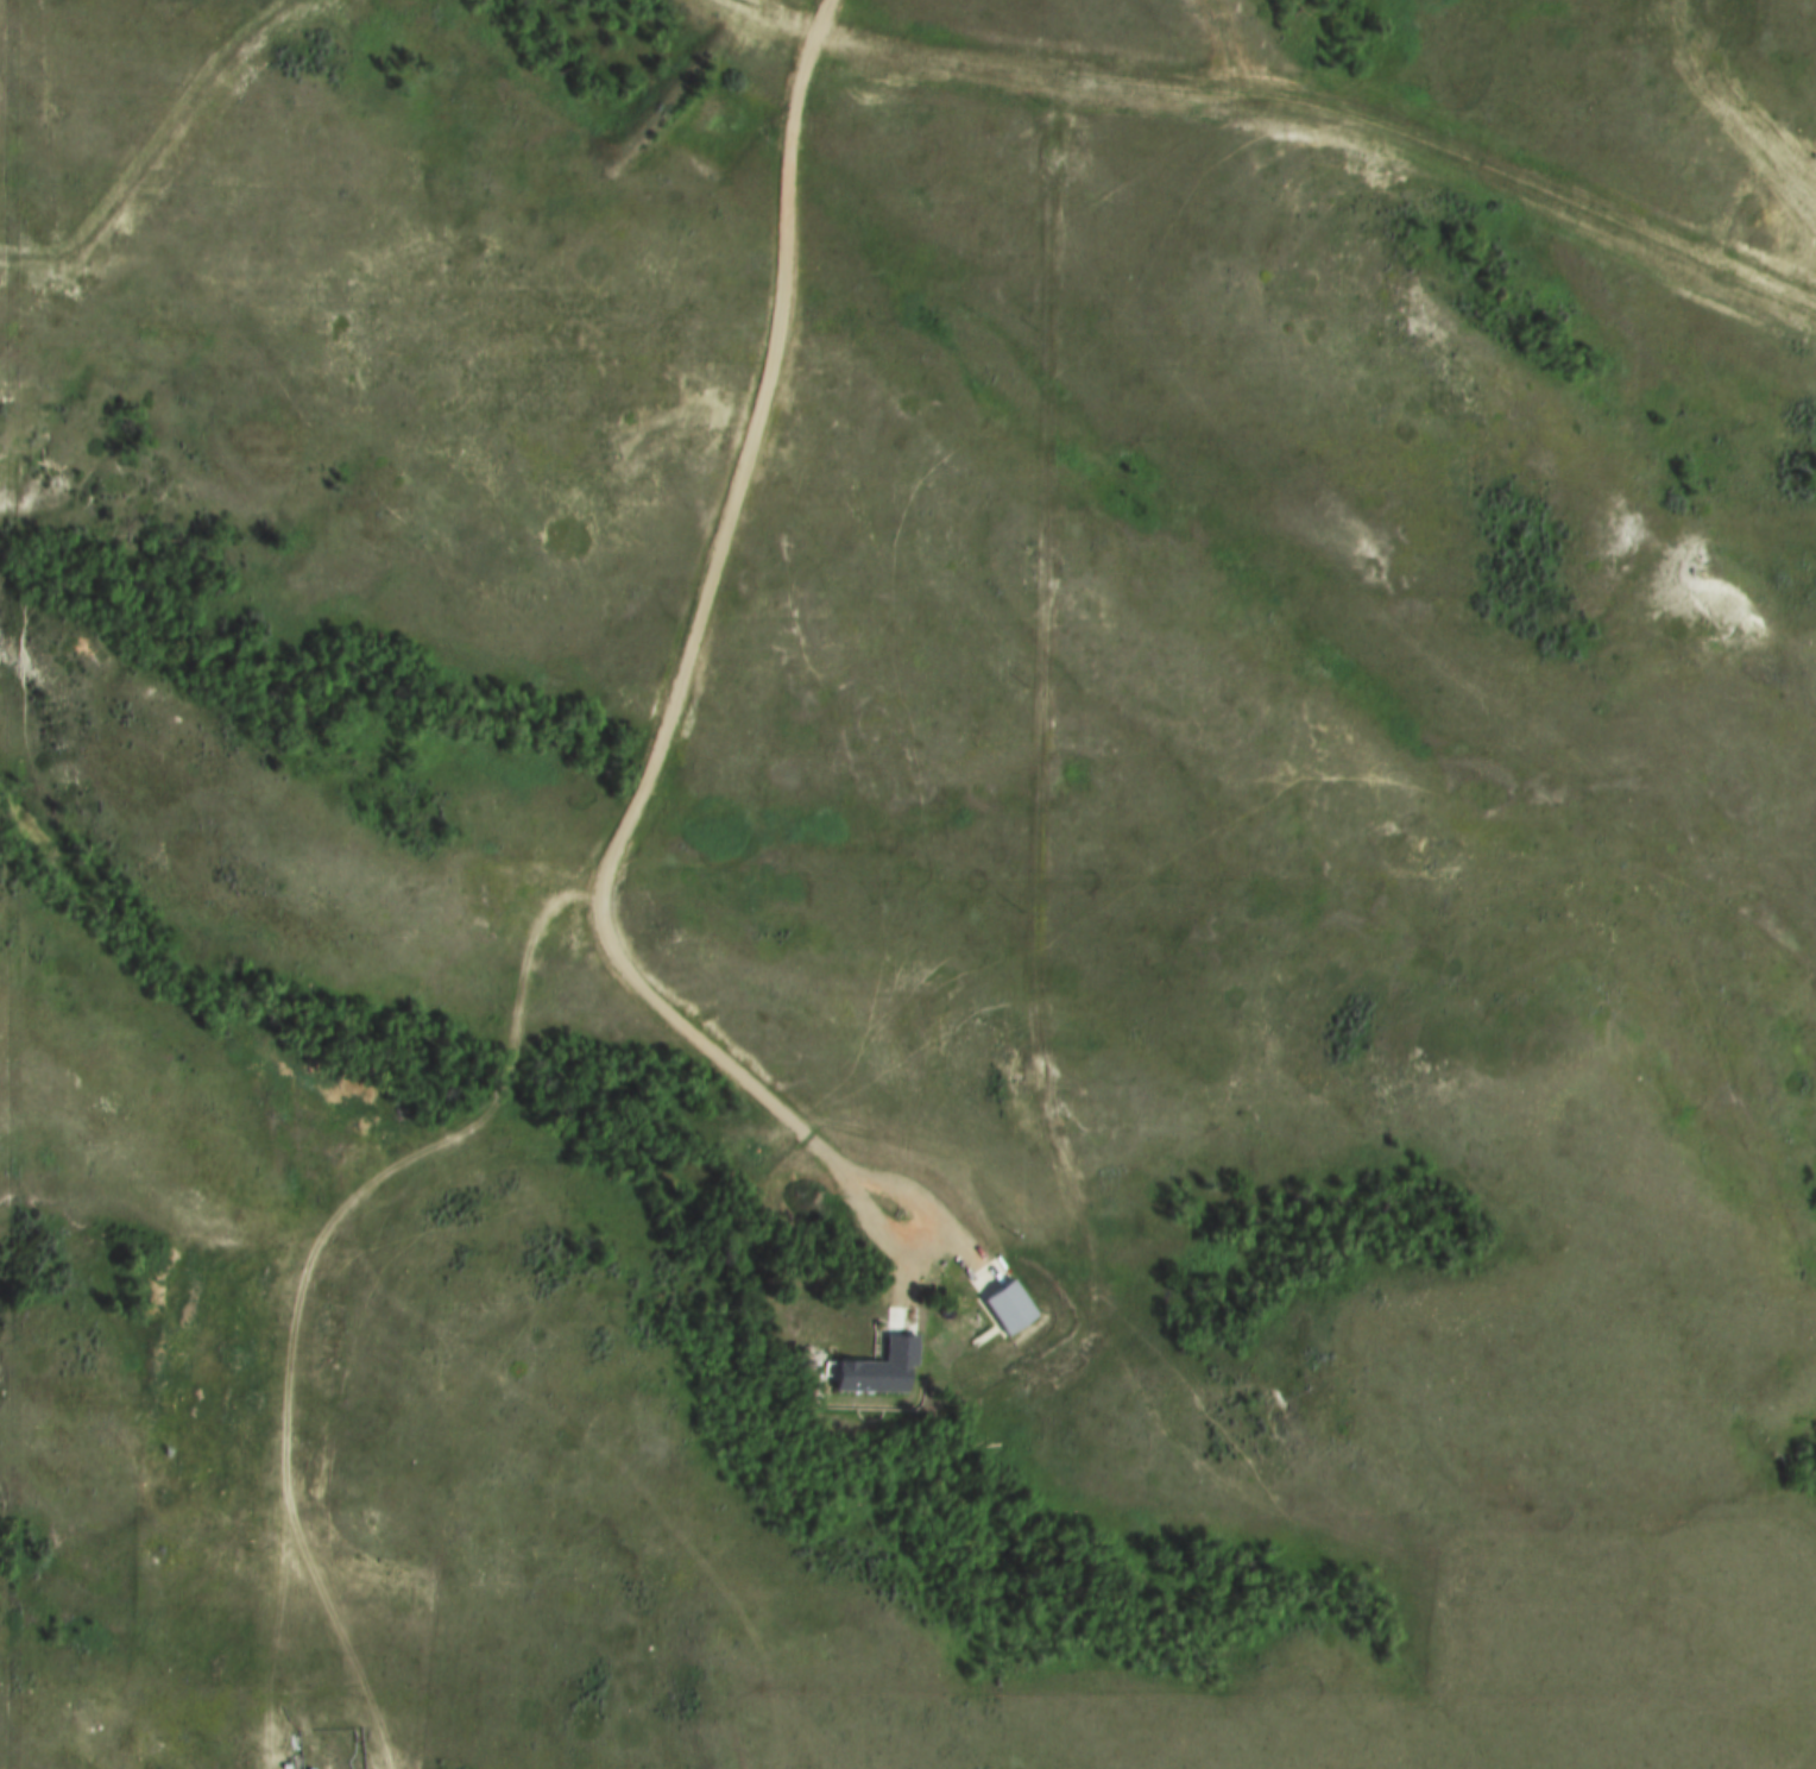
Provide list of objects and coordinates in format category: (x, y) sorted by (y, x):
road: (1298, 95)
road: (692, 643)
road: (925, 1230)
building: (957, 1335)

